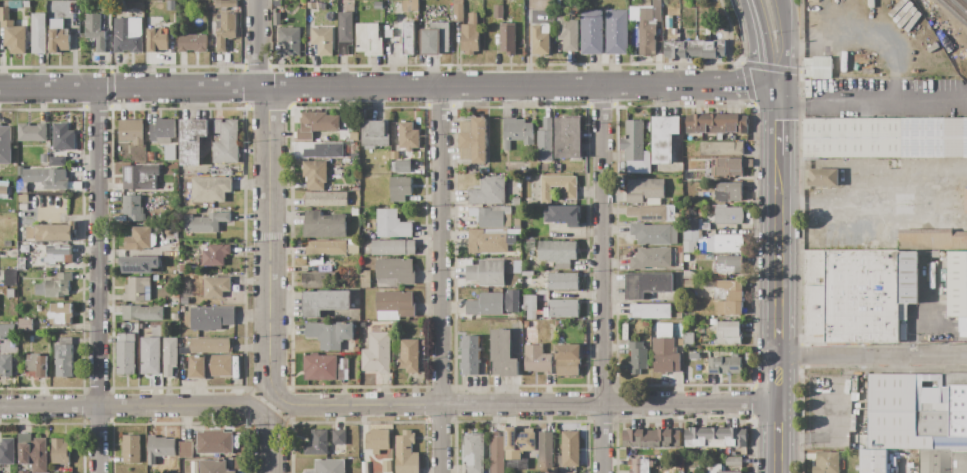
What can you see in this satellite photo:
park: (19, 0)
building: (226, 3)
building: (15, 4)
building: (27, 4)
building: (312, 5)
building: (378, 5)
building: (410, 5)
railway: (961, 5)
road: (784, 8)
railway: (955, 10)
building: (57, 11)
building: (499, 11)
building: (458, 12)
building: (276, 18)
building: (648, 29)
building: (226, 30)
road: (742, 30)
building: (95, 31)
road: (787, 31)
road: (870, 31)
building: (345, 32)
building: (591, 32)
building: (616, 32)
building: (12, 33)
building: (38, 33)
building: (388, 33)
building: (568, 34)
building: (128, 35)
building: (469, 35)
building: (408, 38)
building: (435, 38)
building: (508, 38)
road: (730, 38)
building: (541, 39)
building: (157, 40)
building: (289, 40)
building: (322, 40)
building: (369, 40)
building: (59, 41)
building: (192, 43)
road: (257, 43)
road: (761, 46)
building: (693, 49)
building: (236, 51)
road: (764, 67)
building: (818, 67)
road: (788, 70)
road: (744, 74)
road: (367, 86)
road: (755, 87)
traffic signals: (776, 90)
road: (868, 97)
road: (777, 120)
building: (716, 123)
building: (317, 124)
building: (161, 129)
building: (131, 130)
building: (32, 132)
building: (517, 132)
building: (374, 133)
building: (408, 135)
building: (62, 137)
building: (568, 137)
building: (663, 138)
building: (885, 138)
building: (192, 140)
building: (473, 140)
building: (226, 141)
building: (545, 141)
building: (4, 145)
building: (721, 148)
building: (634, 149)
building: (324, 150)
building: (57, 161)
building: (402, 166)
building: (556, 167)
building: (728, 168)
building: (315, 174)
building: (823, 177)
building: (46, 178)
building: (139, 178)
building: (24, 186)
building: (399, 188)
building: (210, 189)
building: (3, 190)
building: (644, 190)
building: (489, 191)
building: (568, 192)
building: (728, 192)
building: (23, 198)
building: (326, 199)
building: (516, 202)
building: (965, 202)
road: (833, 203)
building: (132, 208)
building: (354, 212)
building: (648, 214)
building: (563, 215)
building: (728, 216)
building: (495, 217)
building: (204, 223)
building: (517, 223)
building: (324, 225)
building: (392, 225)
building: (704, 226)
building: (29, 231)
building: (54, 233)
building: (654, 234)
building: (138, 239)
building: (932, 239)
building: (489, 240)
building: (690, 241)
building: (724, 242)
road: (269, 243)
building: (7, 244)
building: (529, 245)
building: (393, 247)
building: (326, 248)
building: (353, 249)
building: (558, 253)
building: (58, 254)
building: (215, 255)
building: (650, 258)
building: (139, 264)
building: (728, 265)
building: (513, 266)
building: (182, 268)
building: (394, 272)
building: (485, 273)
building: (688, 275)
building: (9, 278)
building: (365, 278)
road: (98, 279)
building: (319, 279)
road: (440, 279)
road: (601, 279)
building: (563, 282)
building: (647, 284)
building: (688, 284)
building: (55, 286)
building: (216, 287)
building: (958, 287)
building: (135, 289)
building: (10, 293)
building: (858, 295)
building: (728, 298)
building: (184, 301)
building: (325, 302)
building: (485, 304)
building: (394, 305)
building: (529, 306)
building: (561, 309)
building: (650, 310)
road: (778, 311)
building: (59, 312)
building: (142, 313)
building: (516, 316)
building: (210, 318)
road: (914, 321)
building: (713, 322)
building: (24, 324)
building: (6, 330)
building: (728, 333)
building: (330, 334)
building: (688, 338)
building: (210, 346)
building: (664, 351)
building: (376, 352)
building: (125, 354)
building: (150, 355)
building: (471, 355)
building: (502, 355)
building: (169, 356)
building: (409, 356)
building: (637, 356)
building: (694, 356)
road: (872, 356)
building: (747, 358)
building: (537, 359)
building: (567, 360)
building: (64, 361)
building: (686, 363)
building: (6, 365)
building: (725, 365)
building: (210, 366)
building: (36, 367)
building: (320, 368)
building: (343, 369)
road: (529, 404)
road: (134, 406)
road: (273, 408)
building: (914, 411)
building: (339, 437)
building: (715, 437)
building: (650, 438)
building: (377, 440)
building: (214, 443)
building: (317, 443)
road: (270, 444)
building: (518, 447)
building: (160, 448)
building: (570, 448)
building: (130, 449)
building: (545, 449)
building: (185, 450)
building: (7, 451)
building: (59, 451)
building: (240, 452)
building: (472, 452)
building: (496, 453)
building: (406, 454)
building: (33, 455)
building: (733, 461)
building: (873, 461)
building: (942, 461)
building: (826, 463)
building: (640, 465)
building: (329, 466)
building: (387, 466)
building: (212, 467)
building: (716, 469)
building: (553, 470)
building: (22, 472)

